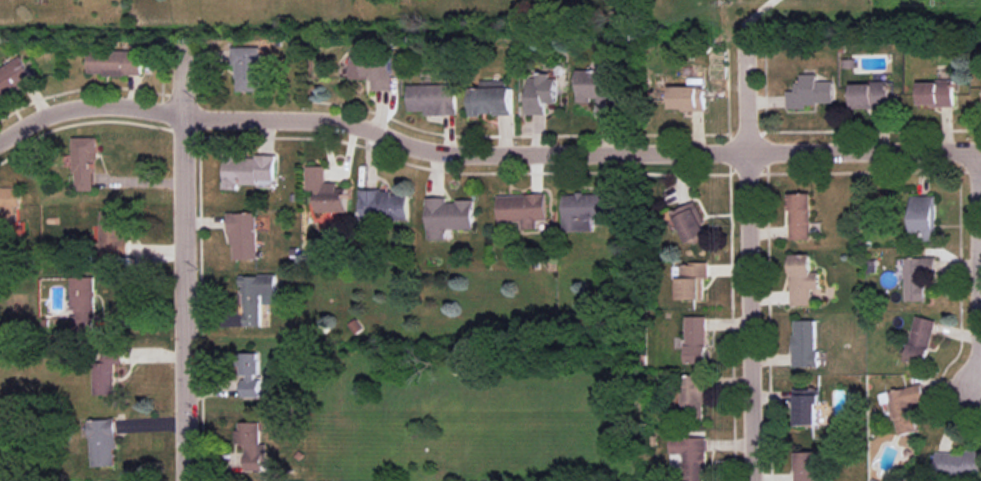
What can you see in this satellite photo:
road: (747, 17)
building: (115, 62)
building: (247, 67)
building: (373, 71)
building: (14, 76)
building: (597, 88)
building: (540, 92)
building: (810, 92)
building: (936, 93)
building: (870, 95)
building: (687, 98)
building: (433, 99)
building: (491, 99)
road: (484, 155)
building: (84, 162)
building: (247, 169)
building: (326, 191)
road: (979, 198)
building: (383, 205)
building: (10, 208)
building: (523, 209)
building: (587, 210)
building: (800, 216)
building: (924, 216)
building: (448, 217)
building: (691, 222)
building: (111, 233)
building: (243, 235)
road: (748, 260)
road: (186, 264)
building: (917, 276)
building: (802, 279)
building: (692, 280)
building: (256, 296)
building: (82, 304)
building: (696, 339)
building: (920, 339)
building: (805, 343)
building: (105, 371)
building: (252, 376)
building: (695, 394)
building: (807, 406)
building: (903, 406)
building: (101, 442)
building: (250, 444)
building: (692, 456)
building: (958, 463)
building: (808, 466)

